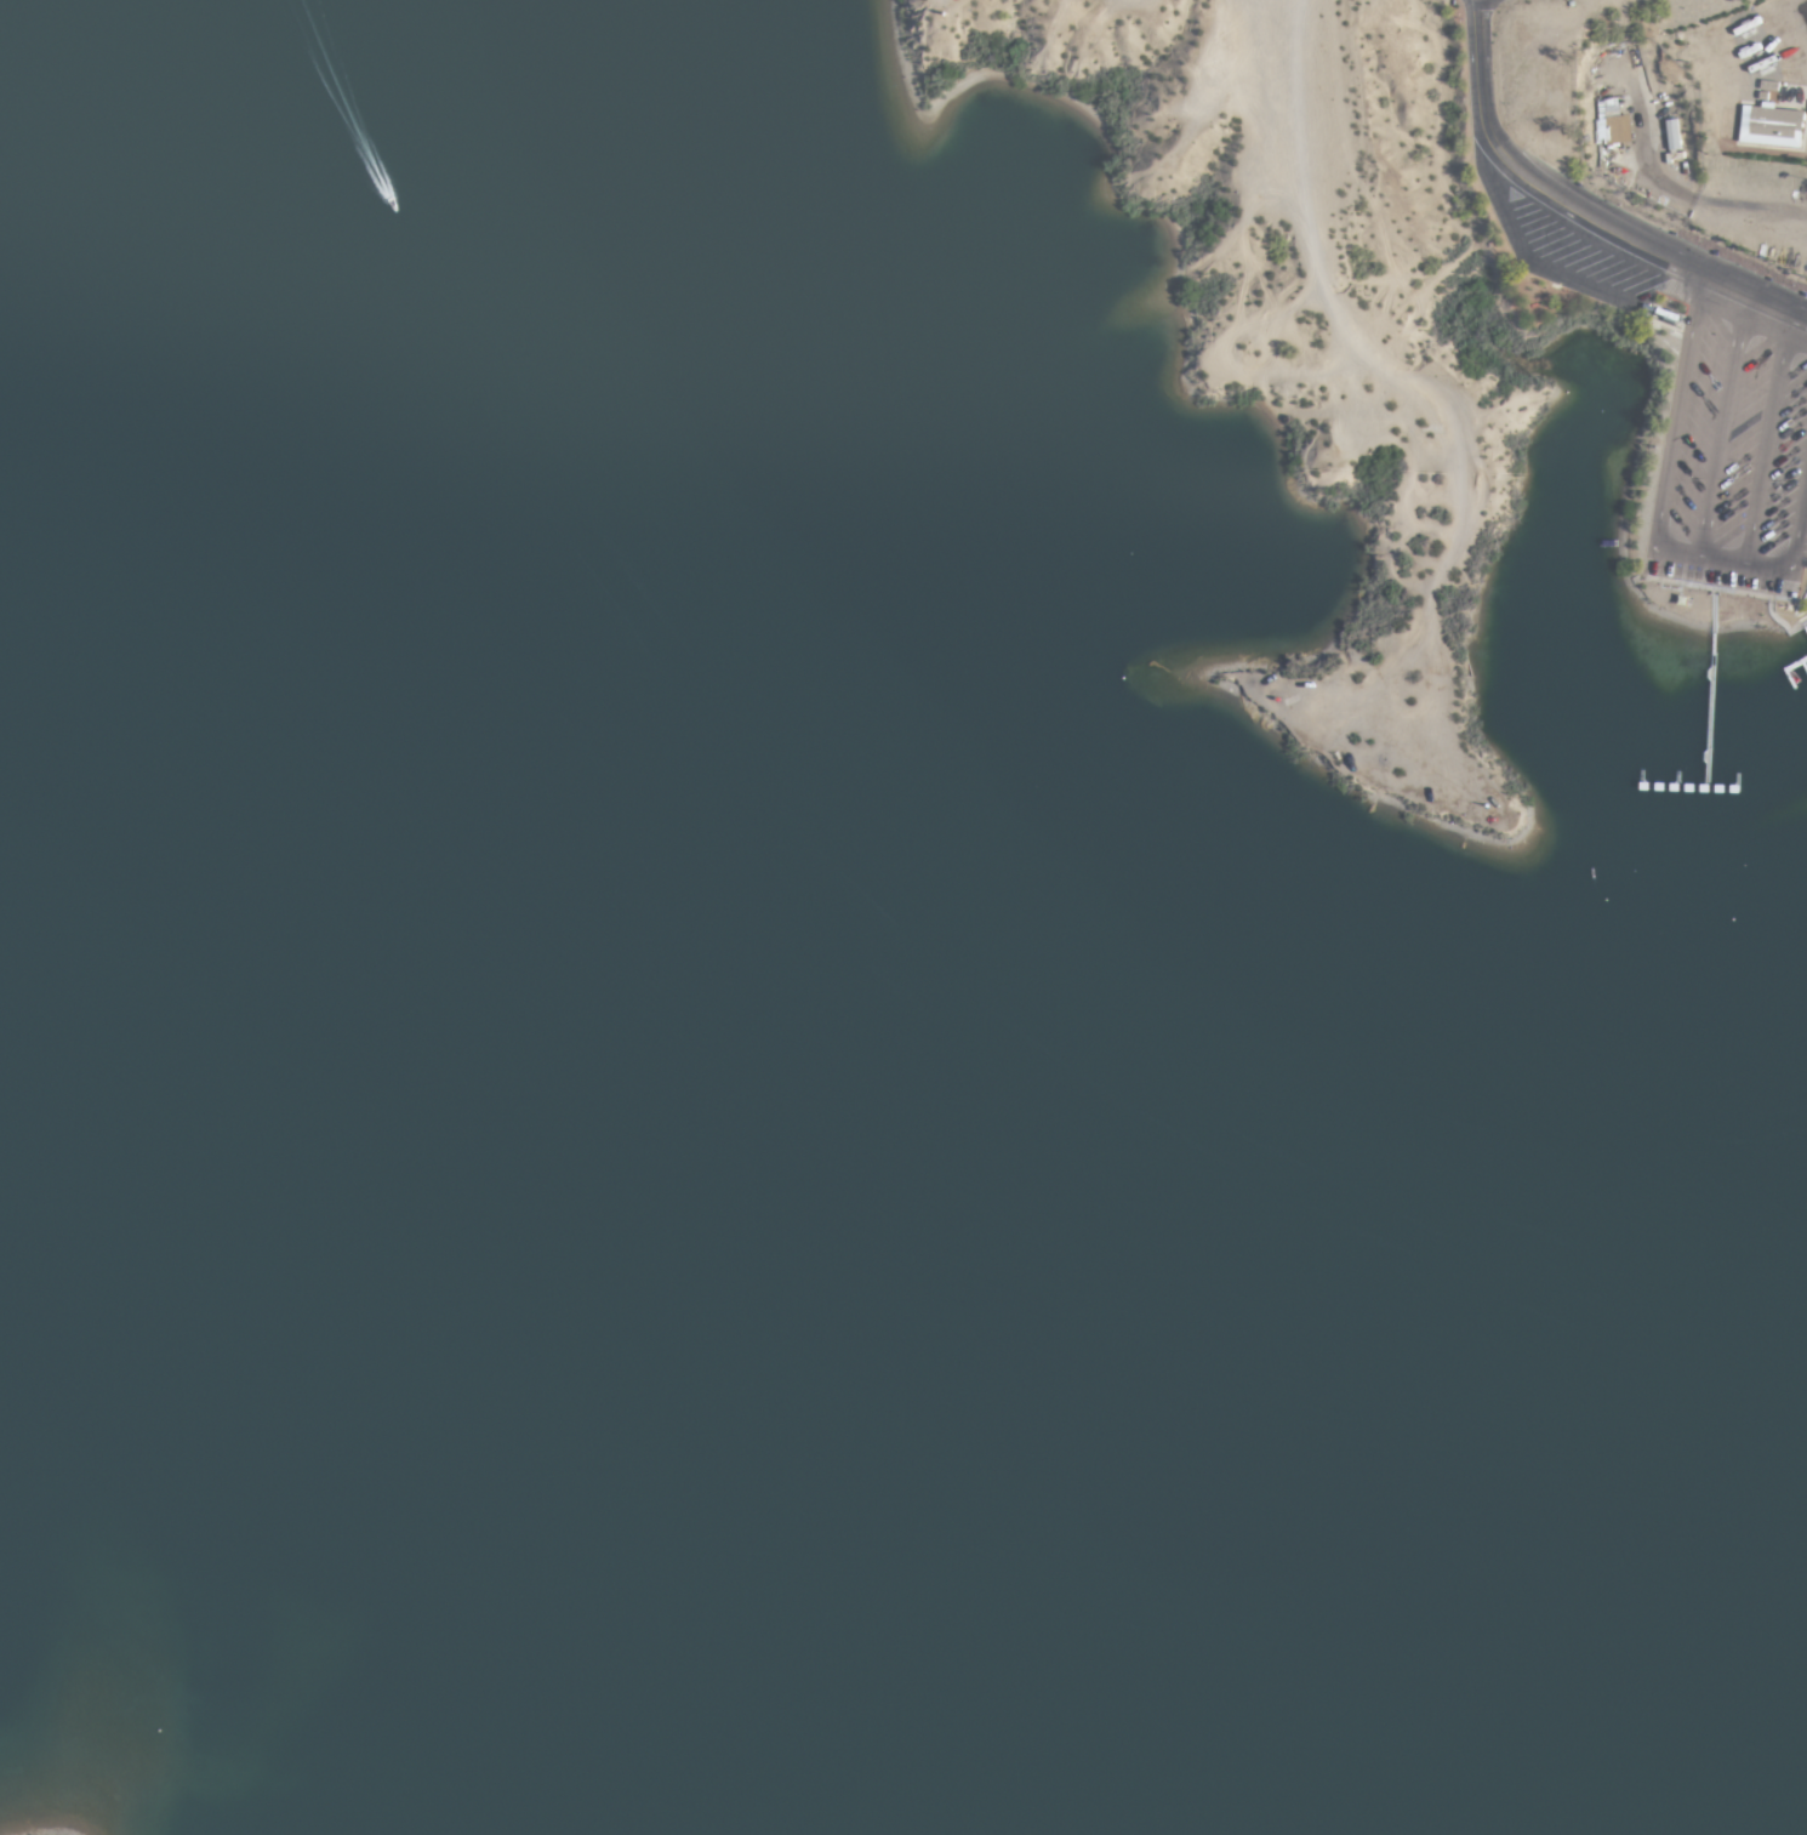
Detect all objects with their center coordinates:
road: (1663, 184)
road: (1577, 210)
road: (1726, 423)
road: (1769, 437)
parking lot: (1734, 458)
road: (1661, 514)
pier: (1805, 663)
pier: (1788, 668)
pier: (1714, 708)
pier: (1697, 787)
river: (730, 1358)
river: (1670, 1516)

